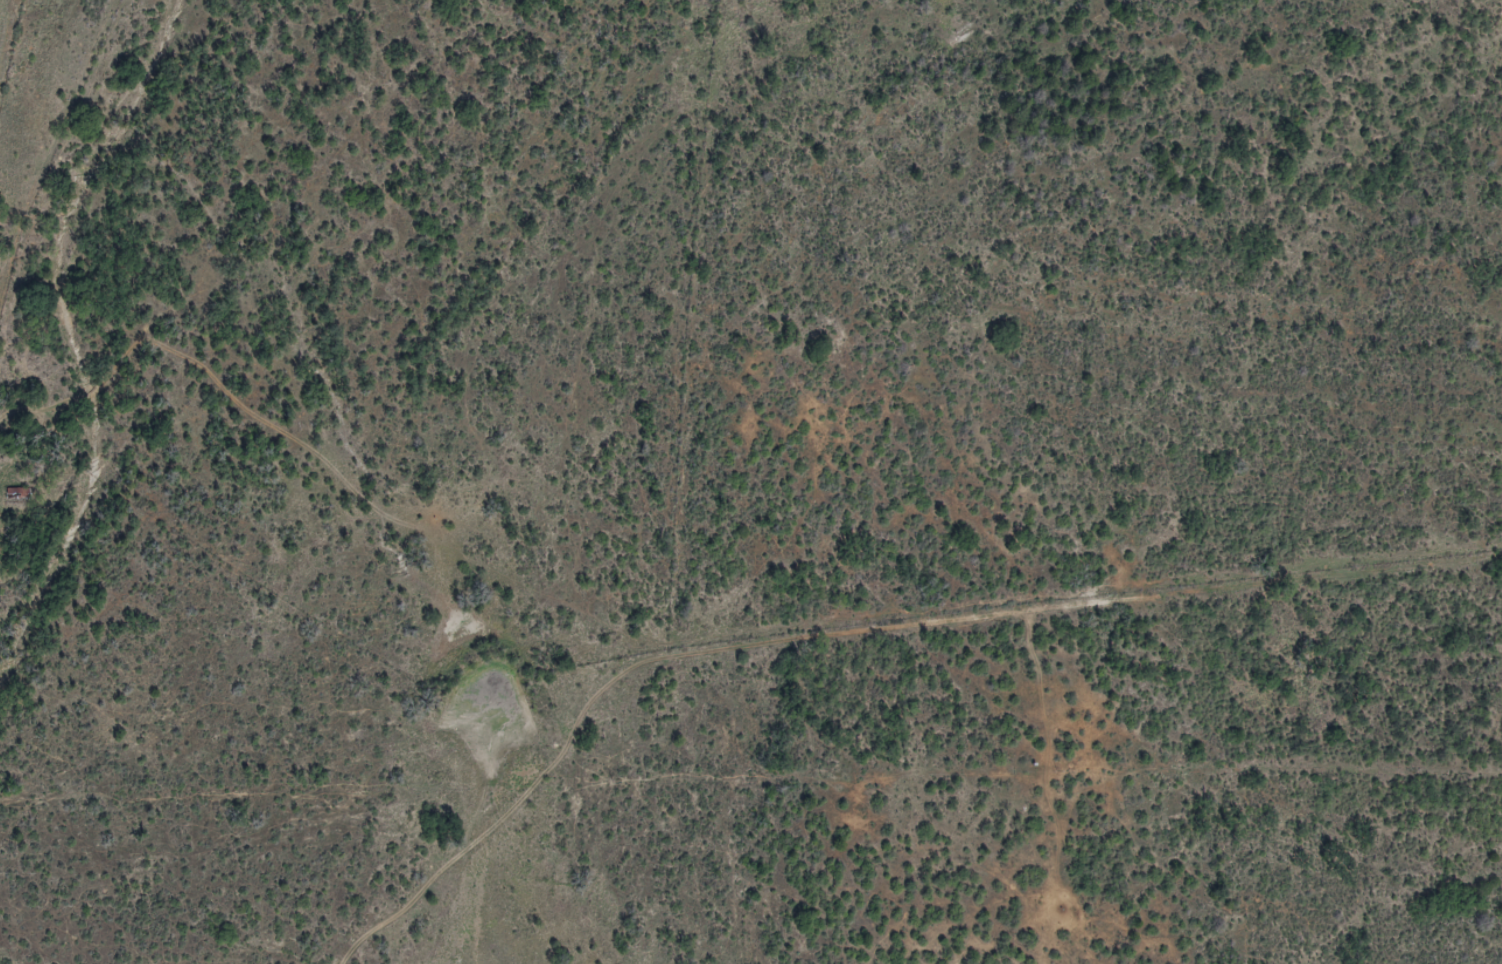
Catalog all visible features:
building: (14, 496)

